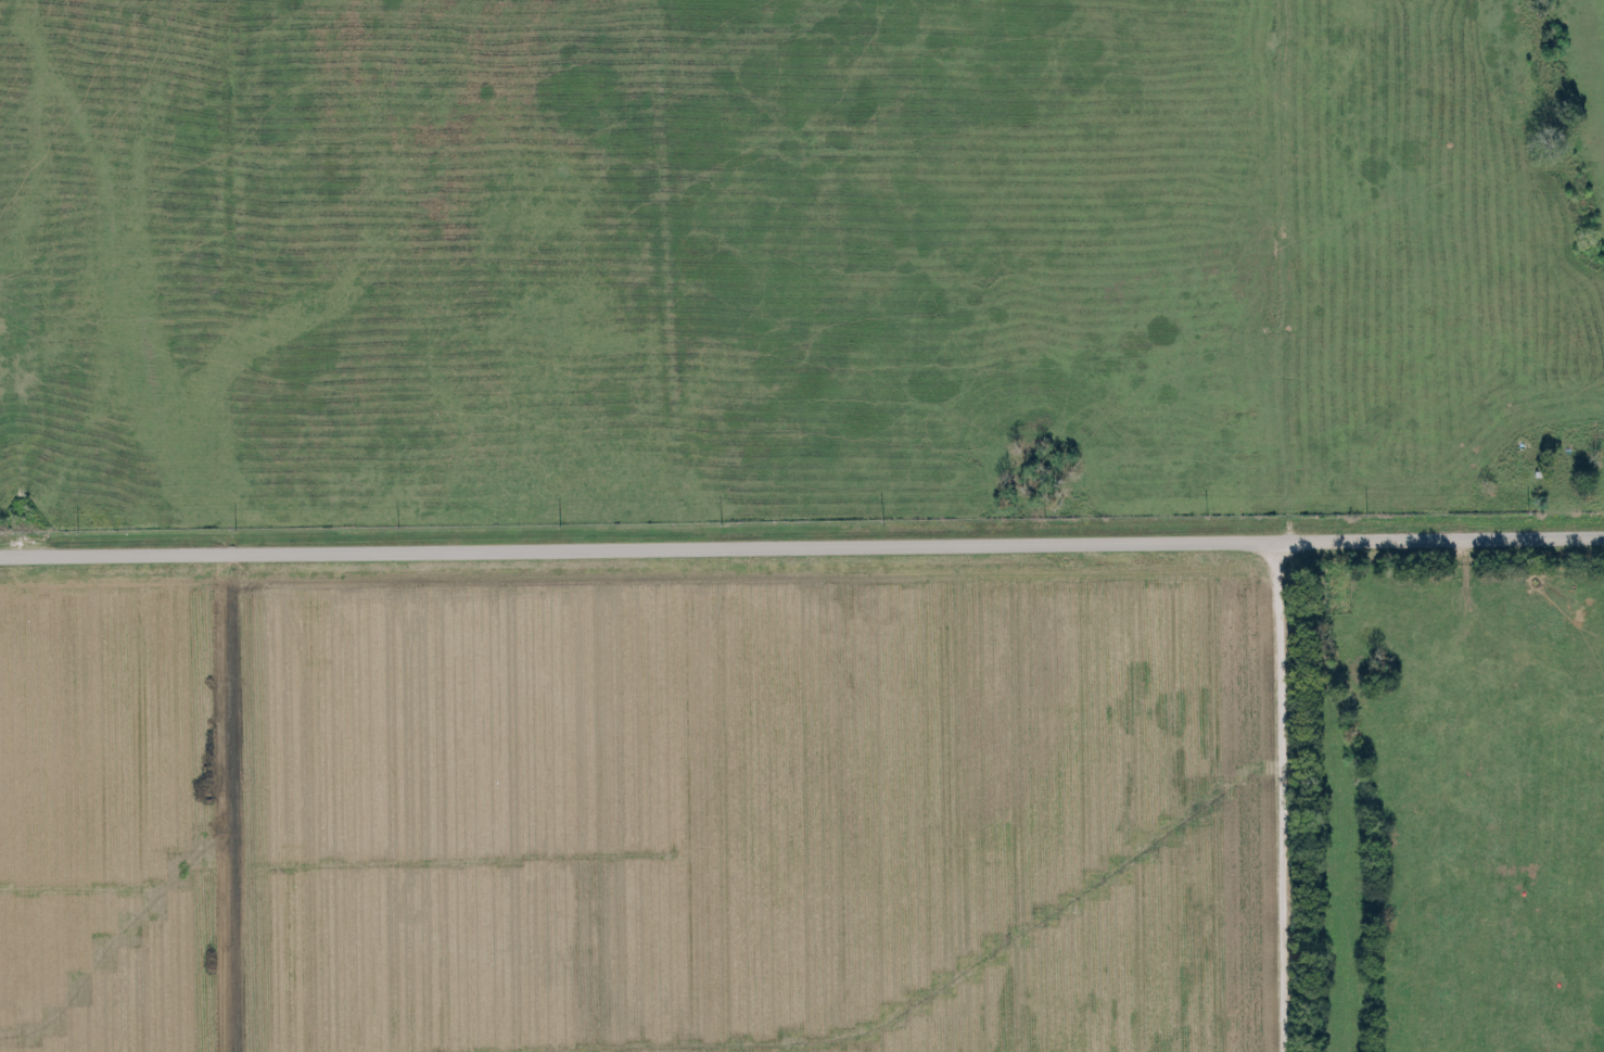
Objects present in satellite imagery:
road: (1280, 525)
road: (801, 545)

